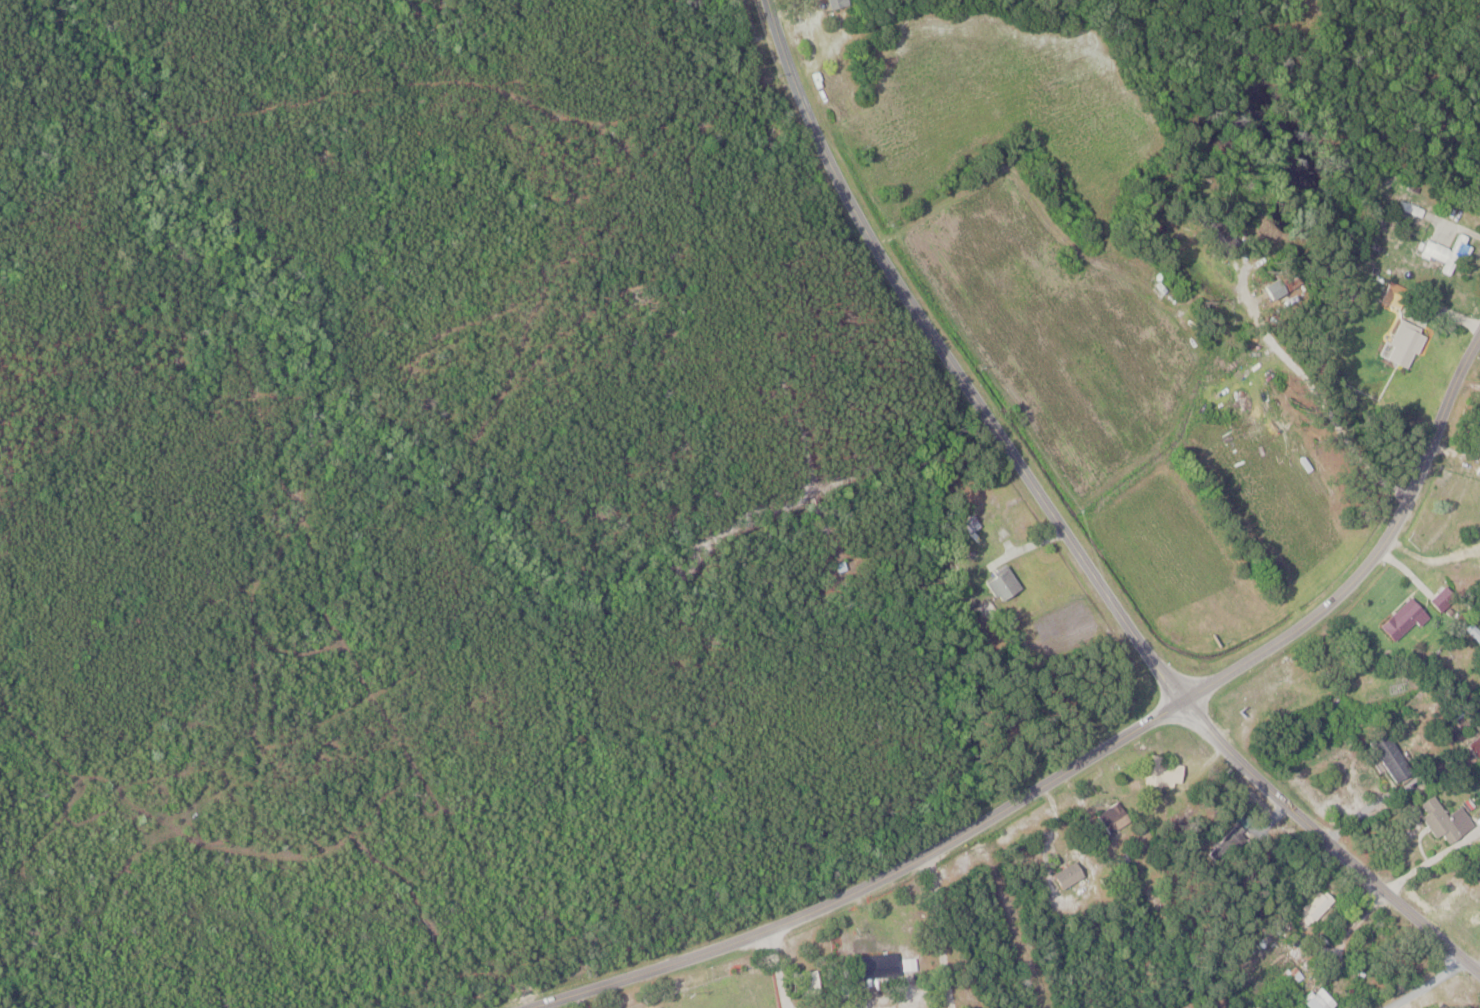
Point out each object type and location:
building: (843, 3)
road: (1464, 230)
building: (1440, 251)
building: (1074, 257)
building: (1396, 342)
building: (1477, 447)
road: (1063, 531)
building: (1009, 583)
building: (1396, 618)
road: (1267, 624)
road: (1191, 697)
building: (1472, 743)
building: (1382, 756)
building: (1174, 771)
building: (1120, 816)
building: (1437, 818)
building: (1476, 821)
road: (1424, 863)
building: (1075, 873)
building: (1308, 904)
road: (938, 932)
building: (917, 963)
building: (886, 965)
road: (654, 970)
road: (1479, 972)
road: (1425, 984)
building: (1311, 999)

